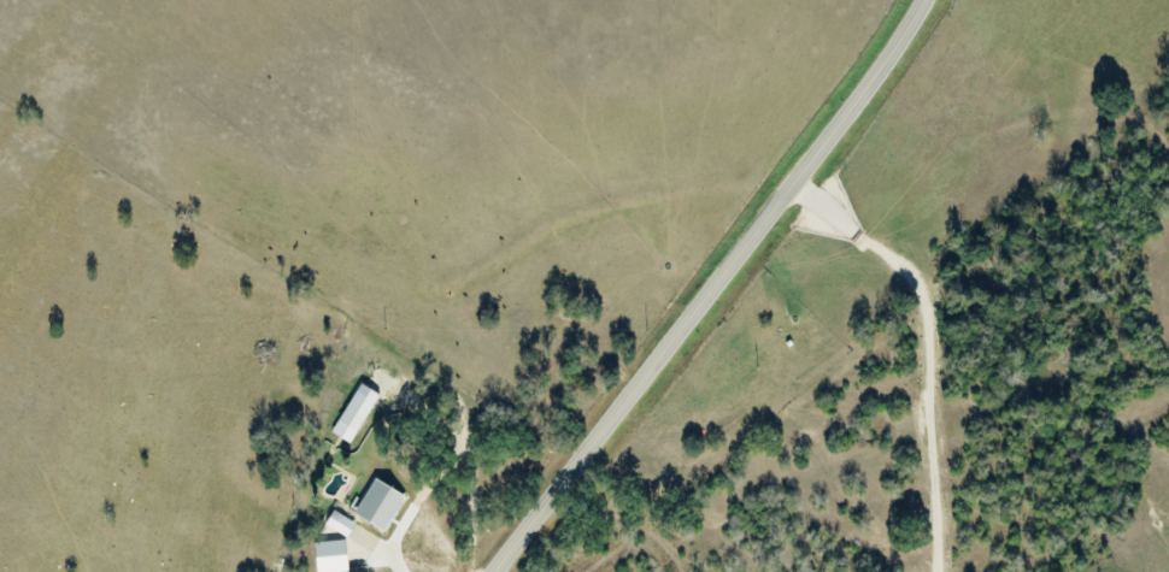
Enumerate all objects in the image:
road: (709, 287)
road: (924, 347)
building: (349, 414)
building: (372, 503)
building: (333, 523)
building: (324, 556)

